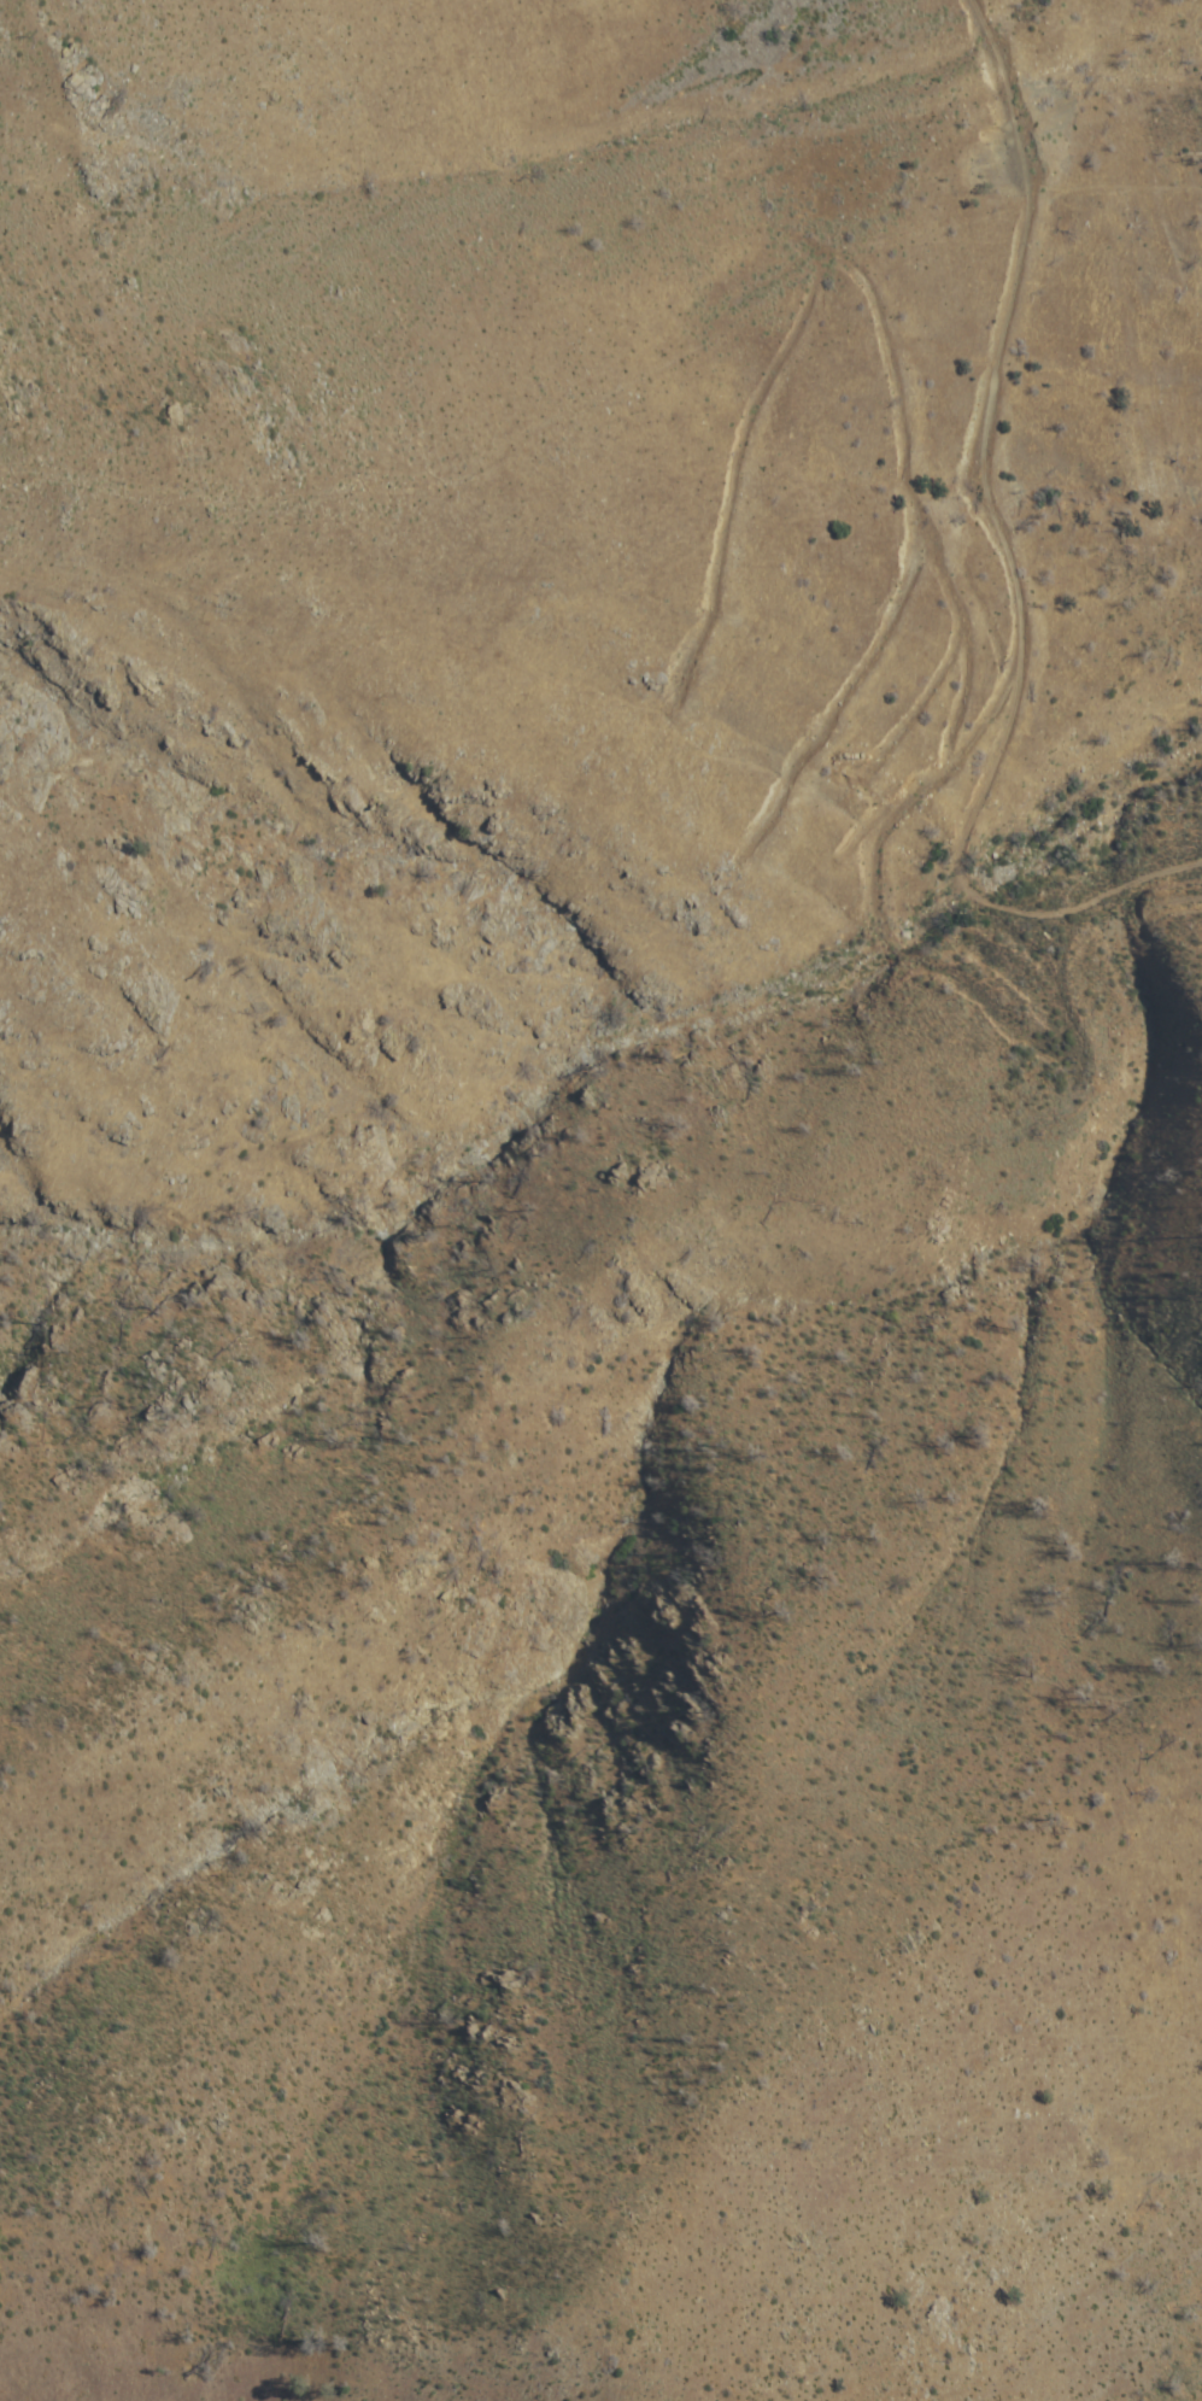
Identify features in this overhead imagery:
road: (924, 464)

